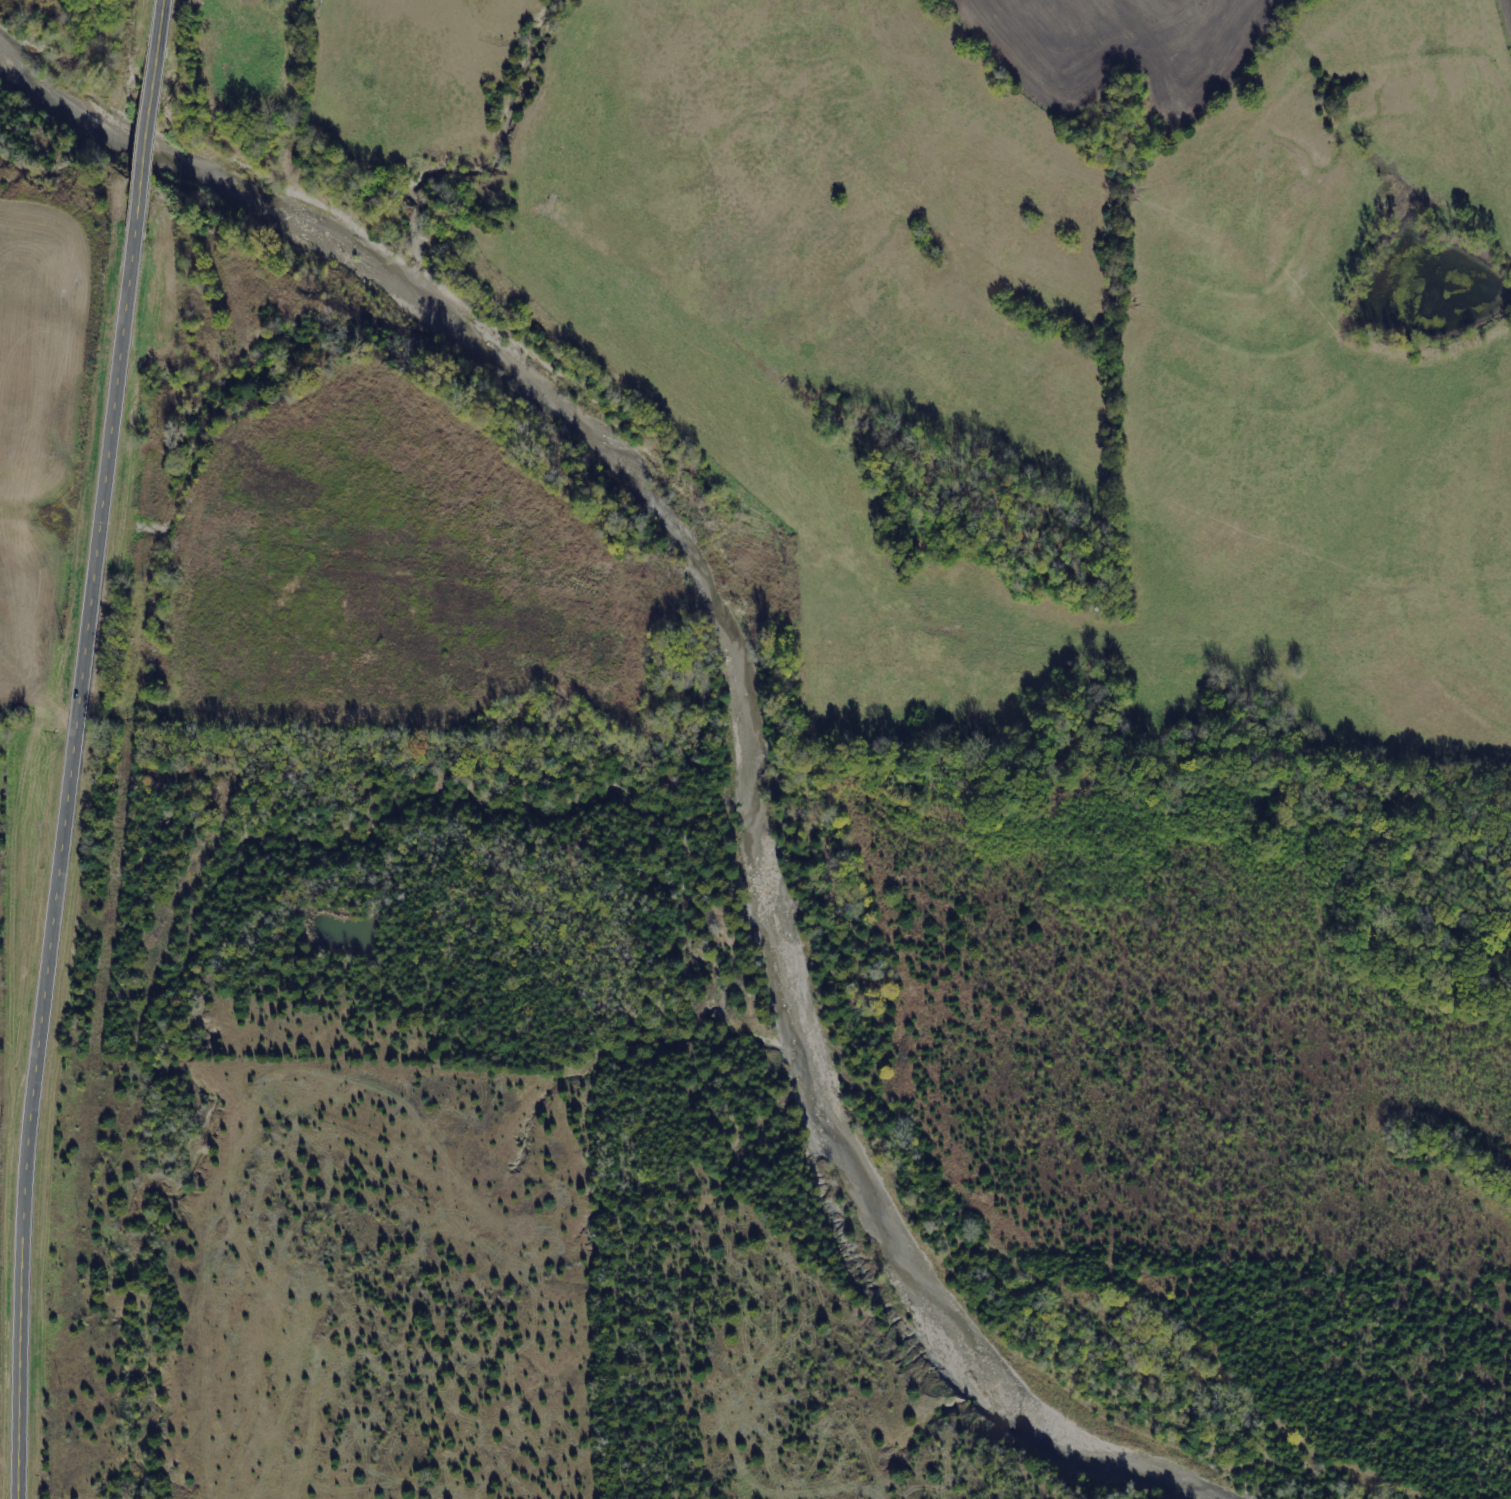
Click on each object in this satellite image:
road: (73, 748)

